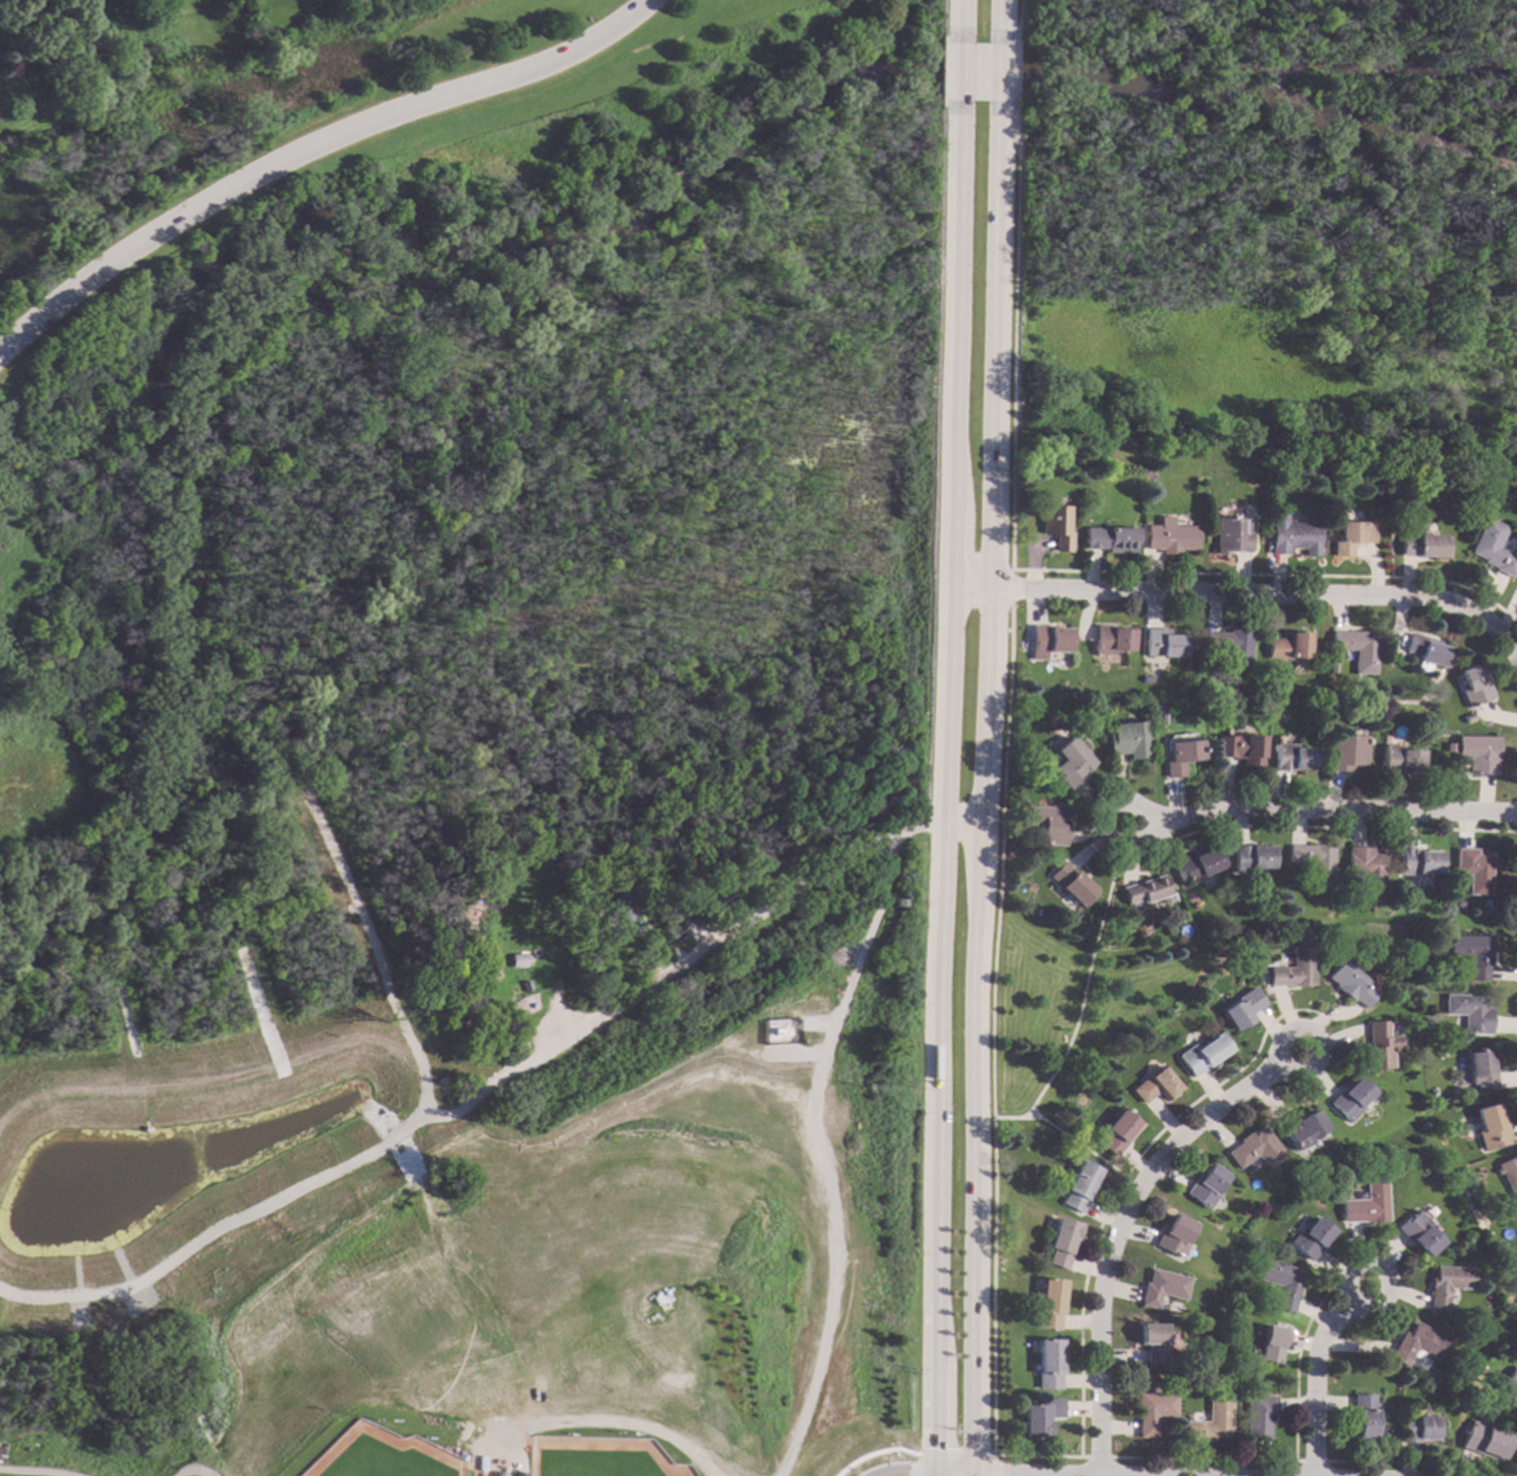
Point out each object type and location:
road: (1015, 15)
road: (961, 18)
road: (1000, 19)
park: (77, 56)
road: (1011, 79)
road: (960, 82)
road: (999, 83)
building: (1305, 111)
building: (1350, 122)
road: (308, 147)
park: (1264, 234)
river: (470, 250)
road: (1009, 348)
park: (457, 413)
road: (952, 475)
building: (1051, 526)
building: (1228, 534)
building: (1290, 534)
building: (1351, 535)
building: (1166, 536)
building: (1104, 539)
road: (1388, 539)
building: (1422, 544)
building: (1492, 548)
road: (1269, 576)
road: (1005, 587)
road: (1246, 595)
building: (1107, 640)
building: (1043, 641)
building: (1160, 644)
building: (1288, 644)
building: (1230, 646)
building: (1355, 649)
building: (1426, 652)
building: (1475, 685)
building: (1470, 718)
building: (1036, 729)
building: (1124, 739)
building: (1452, 747)
building: (1240, 749)
building: (1345, 751)
building: (1480, 753)
building: (1179, 755)
building: (1293, 757)
building: (1402, 759)
building: (1068, 763)
building: (1030, 767)
road: (983, 801)
road: (1319, 811)
road: (963, 823)
building: (1047, 824)
building: (545, 854)
building: (1253, 859)
building: (1317, 860)
building: (1422, 861)
building: (1198, 864)
building: (1370, 867)
building: (1479, 869)
building: (1074, 884)
building: (1146, 890)
building: (622, 908)
road: (711, 937)
building: (1476, 953)
road: (376, 955)
building: (524, 961)
building: (1297, 968)
road: (1092, 976)
building: (1357, 985)
building: (1245, 1008)
building: (1472, 1012)
building: (1387, 1045)
building: (1210, 1054)
building: (1483, 1068)
building: (1162, 1085)
building: (1357, 1099)
building: (1493, 1127)
building: (1126, 1129)
building: (1308, 1129)
road: (1066, 1134)
road: (937, 1148)
building: (1261, 1148)
building: (1510, 1174)
building: (1085, 1186)
building: (1211, 1186)
building: (1369, 1204)
road: (253, 1213)
road: (1124, 1225)
building: (1420, 1233)
building: (1179, 1234)
building: (1314, 1238)
building: (1064, 1241)
building: (1284, 1283)
building: (1448, 1284)
building: (1164, 1287)
building: (1051, 1303)
building: (1153, 1341)
building: (1271, 1344)
building: (1415, 1344)
road: (991, 1356)
building: (1049, 1364)
building: (1451, 1367)
road: (1311, 1370)
building: (1512, 1386)
building: (1151, 1411)
building: (1039, 1416)
building: (1257, 1417)
building: (1362, 1418)
road: (576, 1421)
building: (1210, 1421)
building: (1418, 1428)
building: (1484, 1441)
traffic signals: (932, 1449)
road: (873, 1453)
road: (953, 1455)
park: (368, 1456)
road: (1092, 1457)
park: (585, 1458)
road: (989, 1466)
road: (188, 1471)
road: (29, 1472)
traffic signals: (906, 1473)
road: (907, 1473)
building: (485, 1474)
road: (931, 1474)
road: (951, 1474)
road: (972, 1475)
road: (983, 1475)
traffic signals: (996, 1475)

